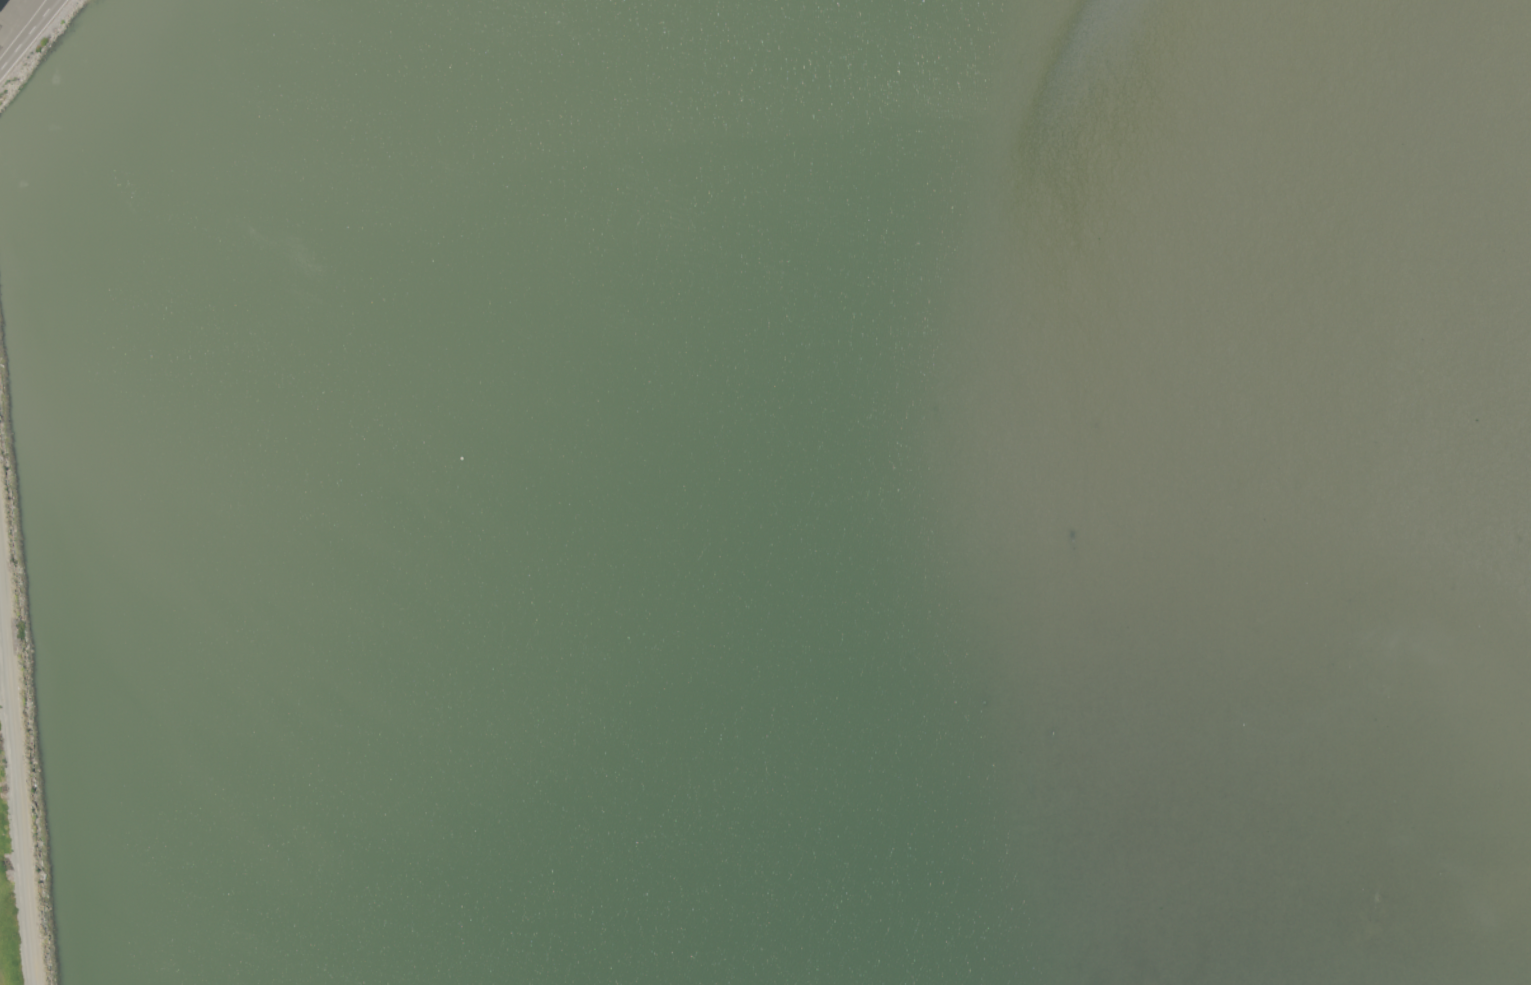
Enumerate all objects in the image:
road: (23, 30)
road: (28, 36)
airport: (29, 37)
airport: (19, 776)

